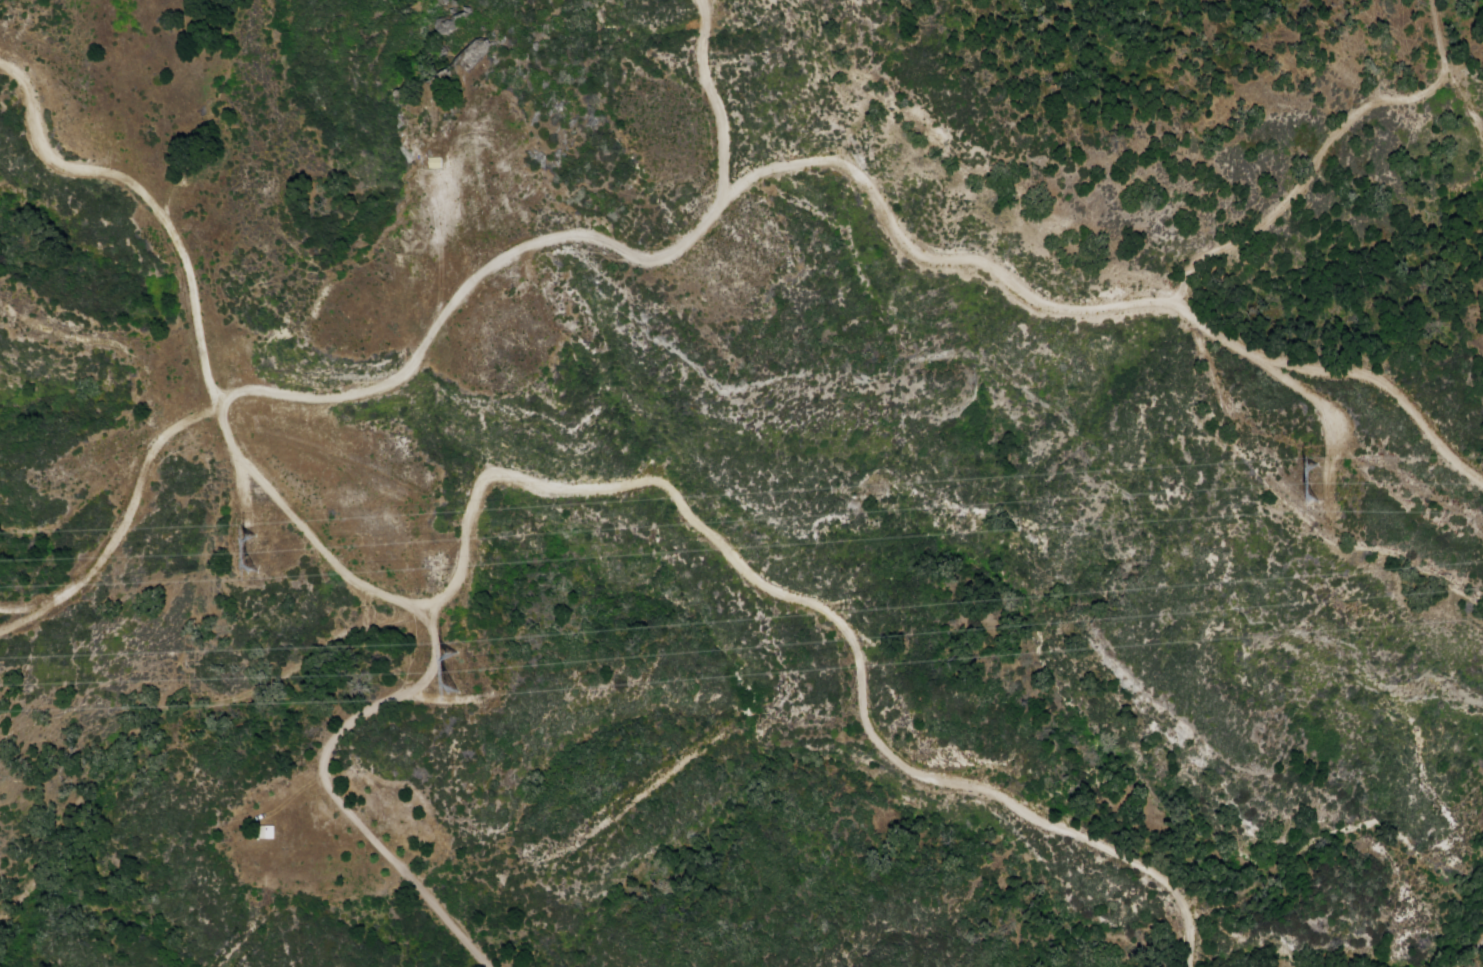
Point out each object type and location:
road: (712, 91)
road: (698, 204)
power tower: (1299, 470)
road: (491, 478)
power tower: (242, 542)
road: (301, 543)
power tower: (438, 651)
road: (892, 764)
building: (268, 835)
road: (1457, 948)

